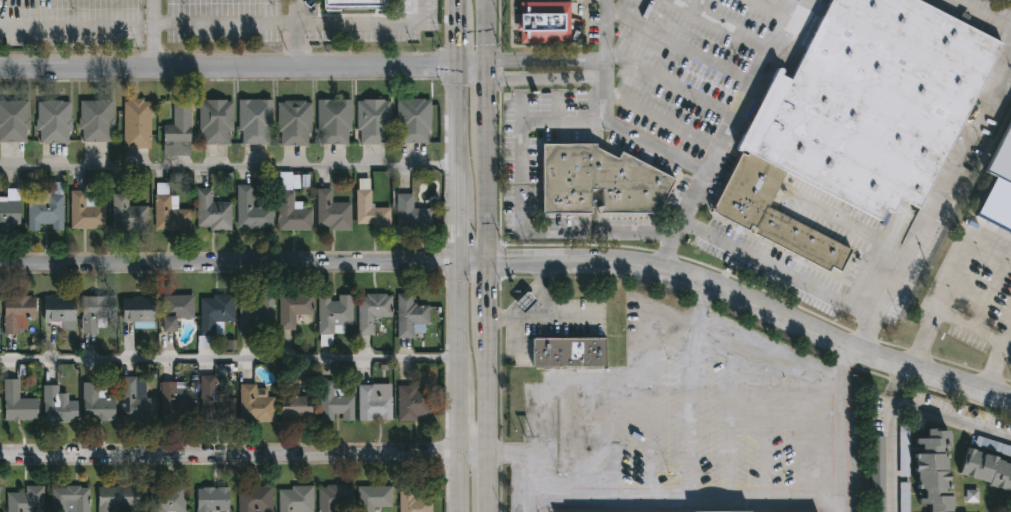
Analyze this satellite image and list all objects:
building: (353, 4)
building: (406, 5)
road: (453, 5)
road: (985, 13)
building: (543, 23)
road: (367, 24)
road: (224, 25)
road: (486, 33)
road: (296, 34)
road: (152, 35)
road: (602, 35)
road: (453, 38)
road: (544, 58)
parking lot: (689, 64)
traffic signals: (453, 66)
road: (470, 66)
traffic signals: (487, 67)
road: (226, 68)
road: (543, 78)
road: (754, 83)
road: (487, 106)
road: (455, 116)
building: (860, 118)
building: (94, 119)
building: (52, 120)
building: (332, 120)
building: (412, 120)
building: (12, 121)
building: (214, 121)
building: (254, 121)
building: (292, 121)
building: (371, 121)
building: (135, 124)
building: (176, 131)
road: (681, 159)
building: (1003, 161)
road: (228, 166)
building: (601, 182)
road: (489, 203)
building: (289, 204)
building: (9, 206)
building: (44, 209)
road: (524, 209)
building: (168, 210)
building: (250, 210)
building: (84, 211)
building: (212, 211)
building: (331, 211)
building: (369, 211)
building: (126, 213)
building: (410, 213)
road: (459, 213)
road: (851, 226)
traffic signals: (462, 260)
road: (476, 260)
traffic signals: (491, 260)
road: (231, 262)
road: (953, 276)
road: (894, 282)
road: (491, 291)
road: (534, 307)
road: (756, 308)
building: (174, 309)
building: (294, 310)
building: (370, 310)
building: (136, 311)
building: (255, 311)
building: (15, 312)
building: (54, 312)
building: (94, 312)
building: (408, 314)
building: (332, 316)
building: (213, 317)
road: (462, 317)
road: (867, 336)
building: (569, 351)
road: (231, 359)
road: (997, 367)
road: (617, 377)
road: (765, 377)
road: (491, 385)
building: (410, 401)
building: (16, 402)
building: (134, 402)
building: (213, 402)
building: (333, 402)
building: (95, 403)
building: (173, 403)
building: (56, 404)
building: (253, 404)
building: (293, 404)
building: (371, 404)
road: (902, 408)
road: (462, 412)
road: (839, 430)
road: (245, 454)
road: (524, 464)
building: (930, 469)
building: (985, 469)
building: (878, 474)
road: (463, 480)
road: (491, 480)
building: (0, 487)
road: (681, 495)
building: (332, 496)
building: (115, 497)
building: (372, 497)
building: (904, 497)
building: (23, 498)
building: (68, 499)
building: (166, 499)
building: (210, 499)
building: (254, 499)
building: (295, 499)
building: (412, 500)

